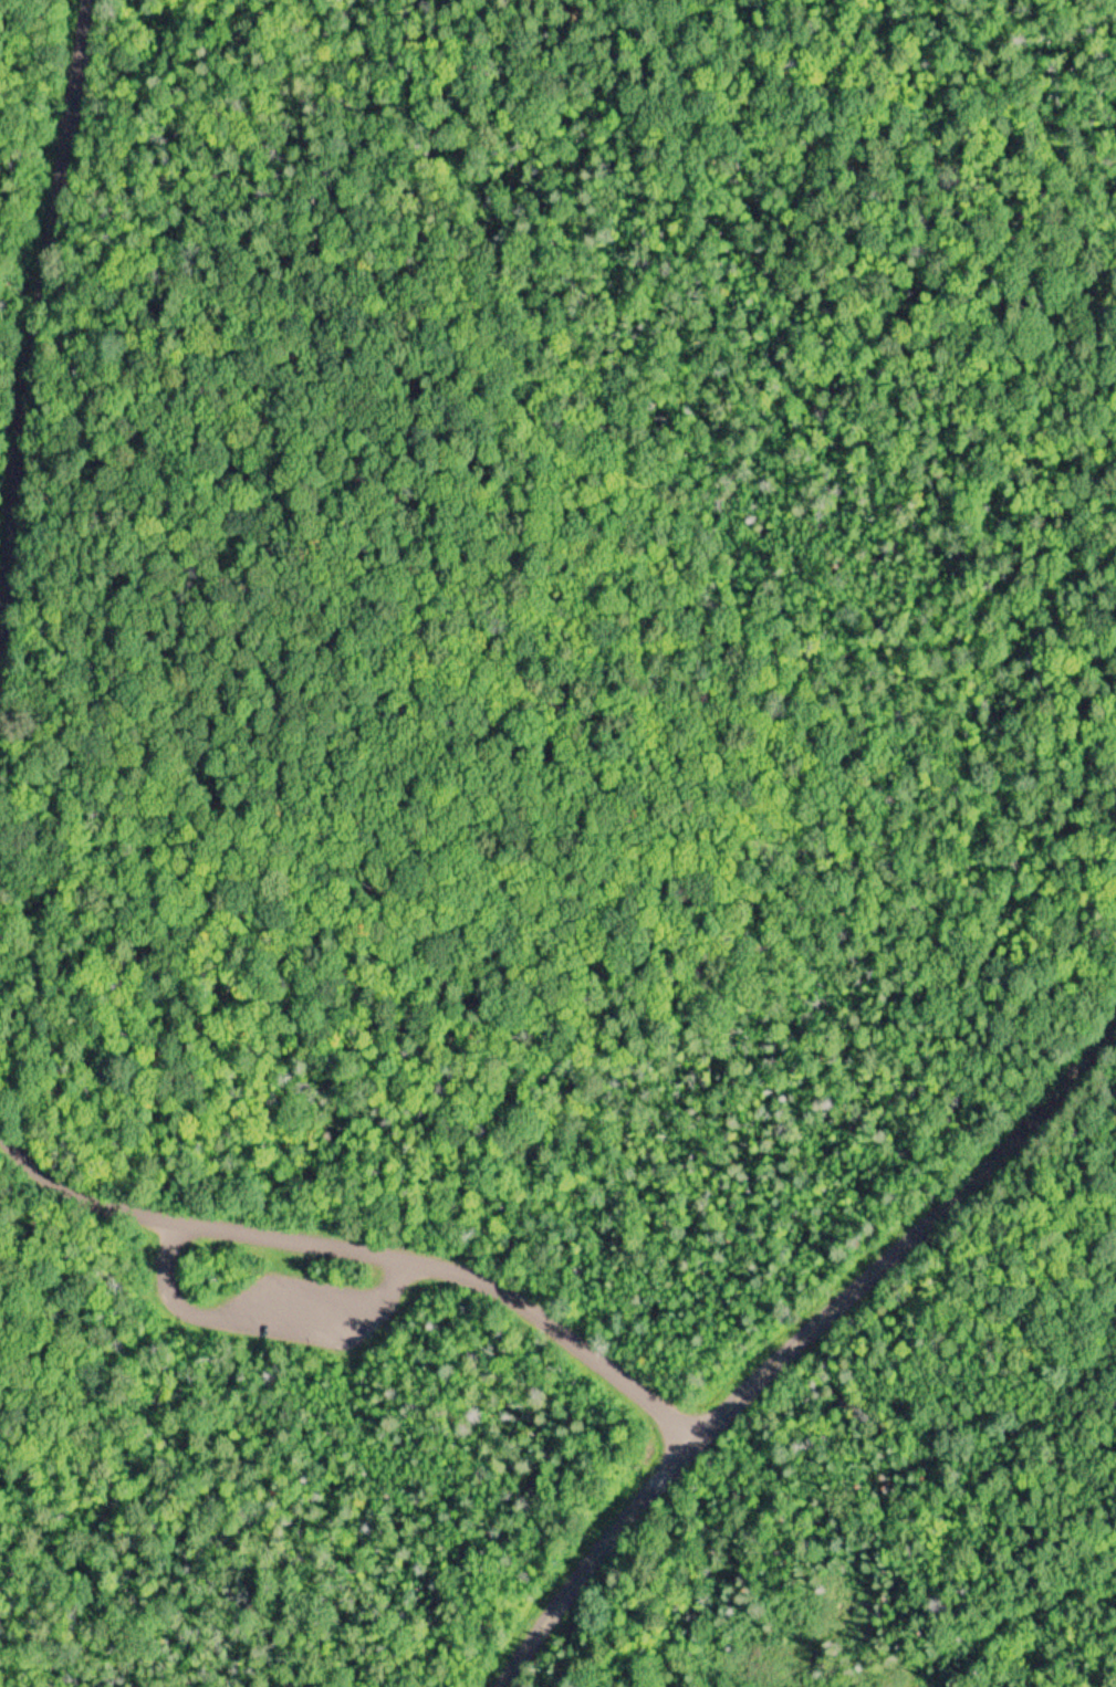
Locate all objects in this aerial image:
road: (35, 345)
road: (907, 1234)
road: (155, 1235)
road: (358, 1256)
road: (81, 1271)
parking lot: (304, 1310)
road: (200, 1314)
road: (355, 1324)
road: (104, 1508)
road: (593, 1559)

